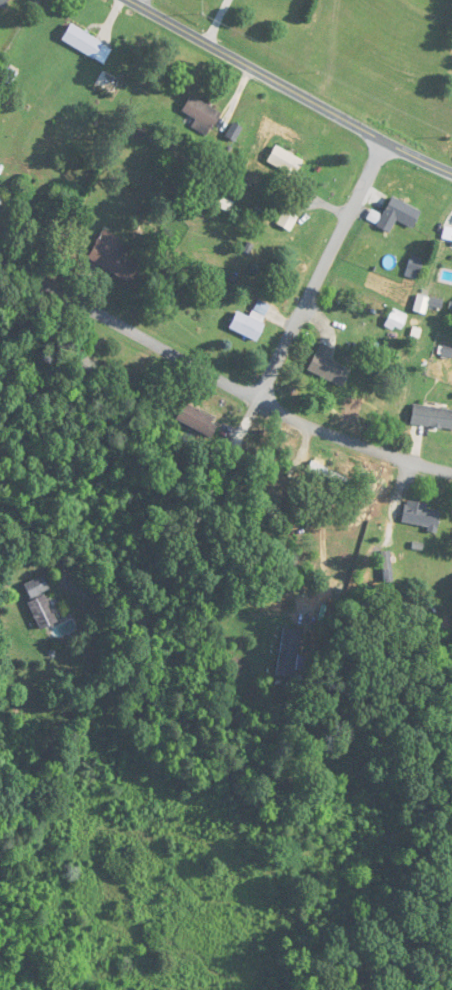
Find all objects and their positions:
building: (3, 3)
building: (82, 42)
road: (290, 88)
building: (201, 113)
building: (284, 162)
building: (0, 191)
building: (395, 215)
building: (287, 220)
building: (447, 234)
building: (111, 257)
road: (321, 270)
building: (251, 321)
building: (328, 366)
road: (220, 379)
building: (432, 417)
building: (197, 419)
road: (233, 455)
road: (249, 496)
building: (421, 515)
building: (37, 587)
building: (42, 612)
building: (288, 652)

